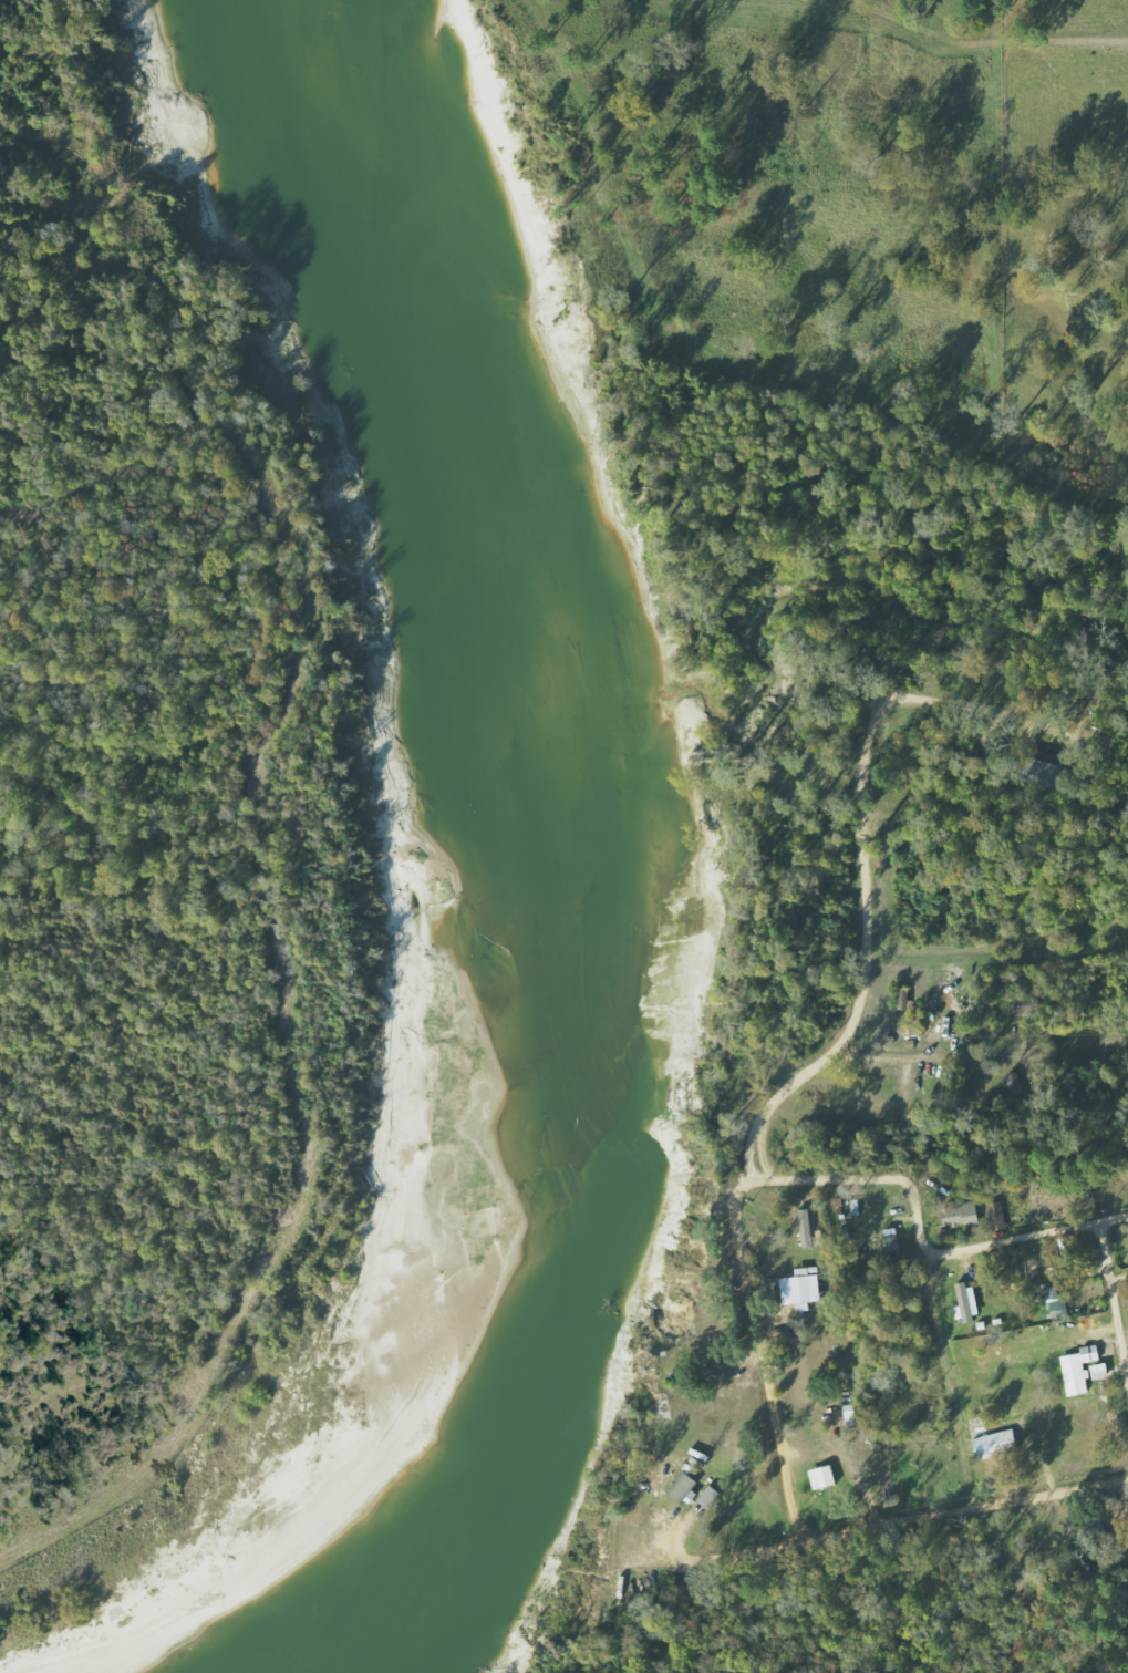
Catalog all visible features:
river: (562, 867)
road: (1001, 880)
road: (848, 981)
road: (964, 1003)
building: (1014, 1085)
road: (952, 1198)
building: (961, 1214)
building: (997, 1216)
road: (1126, 1225)
building: (806, 1227)
building: (893, 1242)
building: (801, 1287)
building: (966, 1302)
road: (984, 1361)
building: (1079, 1370)
building: (1100, 1372)
building: (996, 1444)
road: (729, 1448)
building: (822, 1477)
building: (683, 1487)
road: (884, 1499)
road: (645, 1502)
road: (649, 1621)

